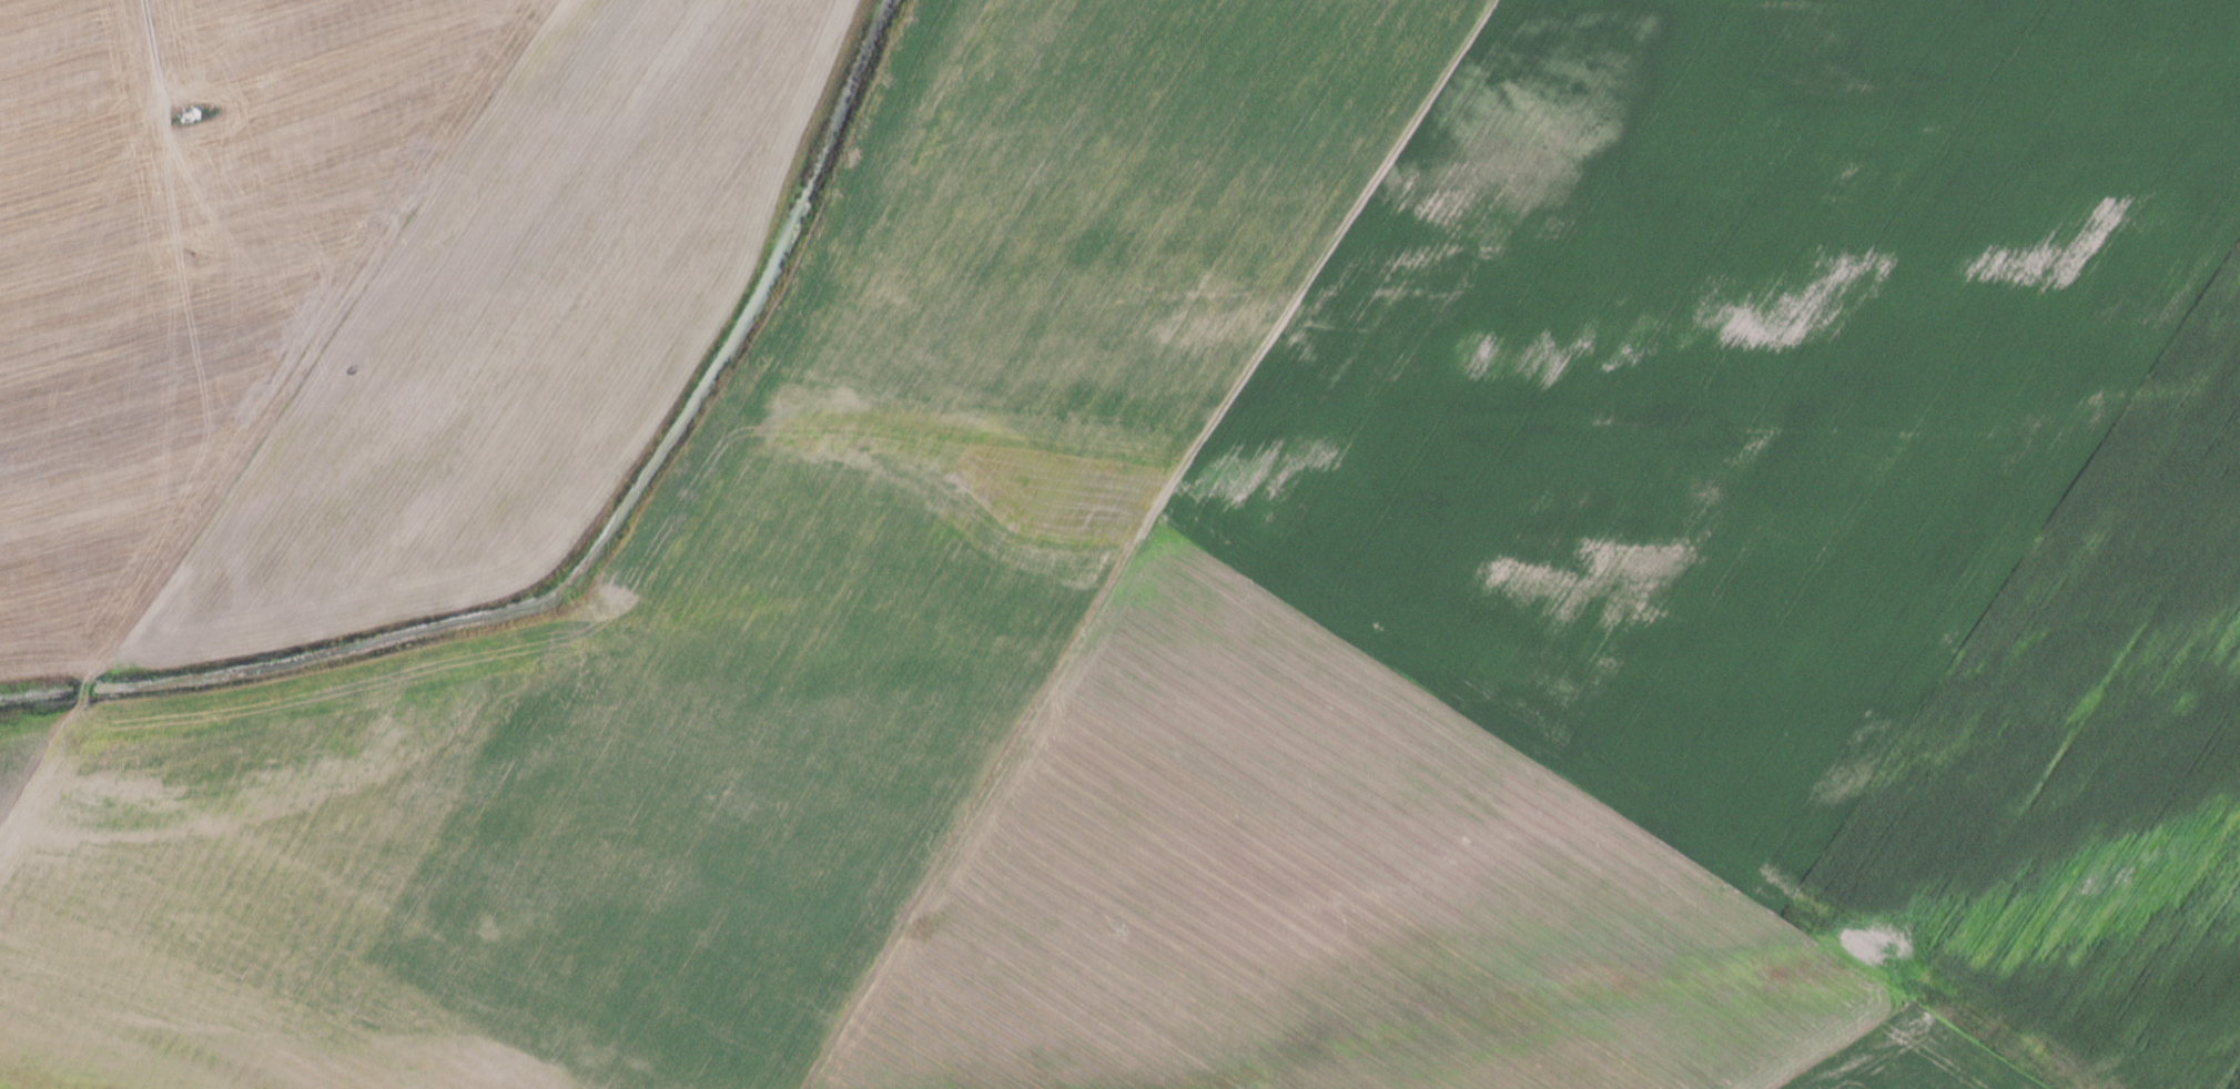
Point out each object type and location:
crop: (1777, 424)
crop: (2126, 889)
crop: (1308, 893)
crop: (1916, 1061)
crop: (2234, 1081)

